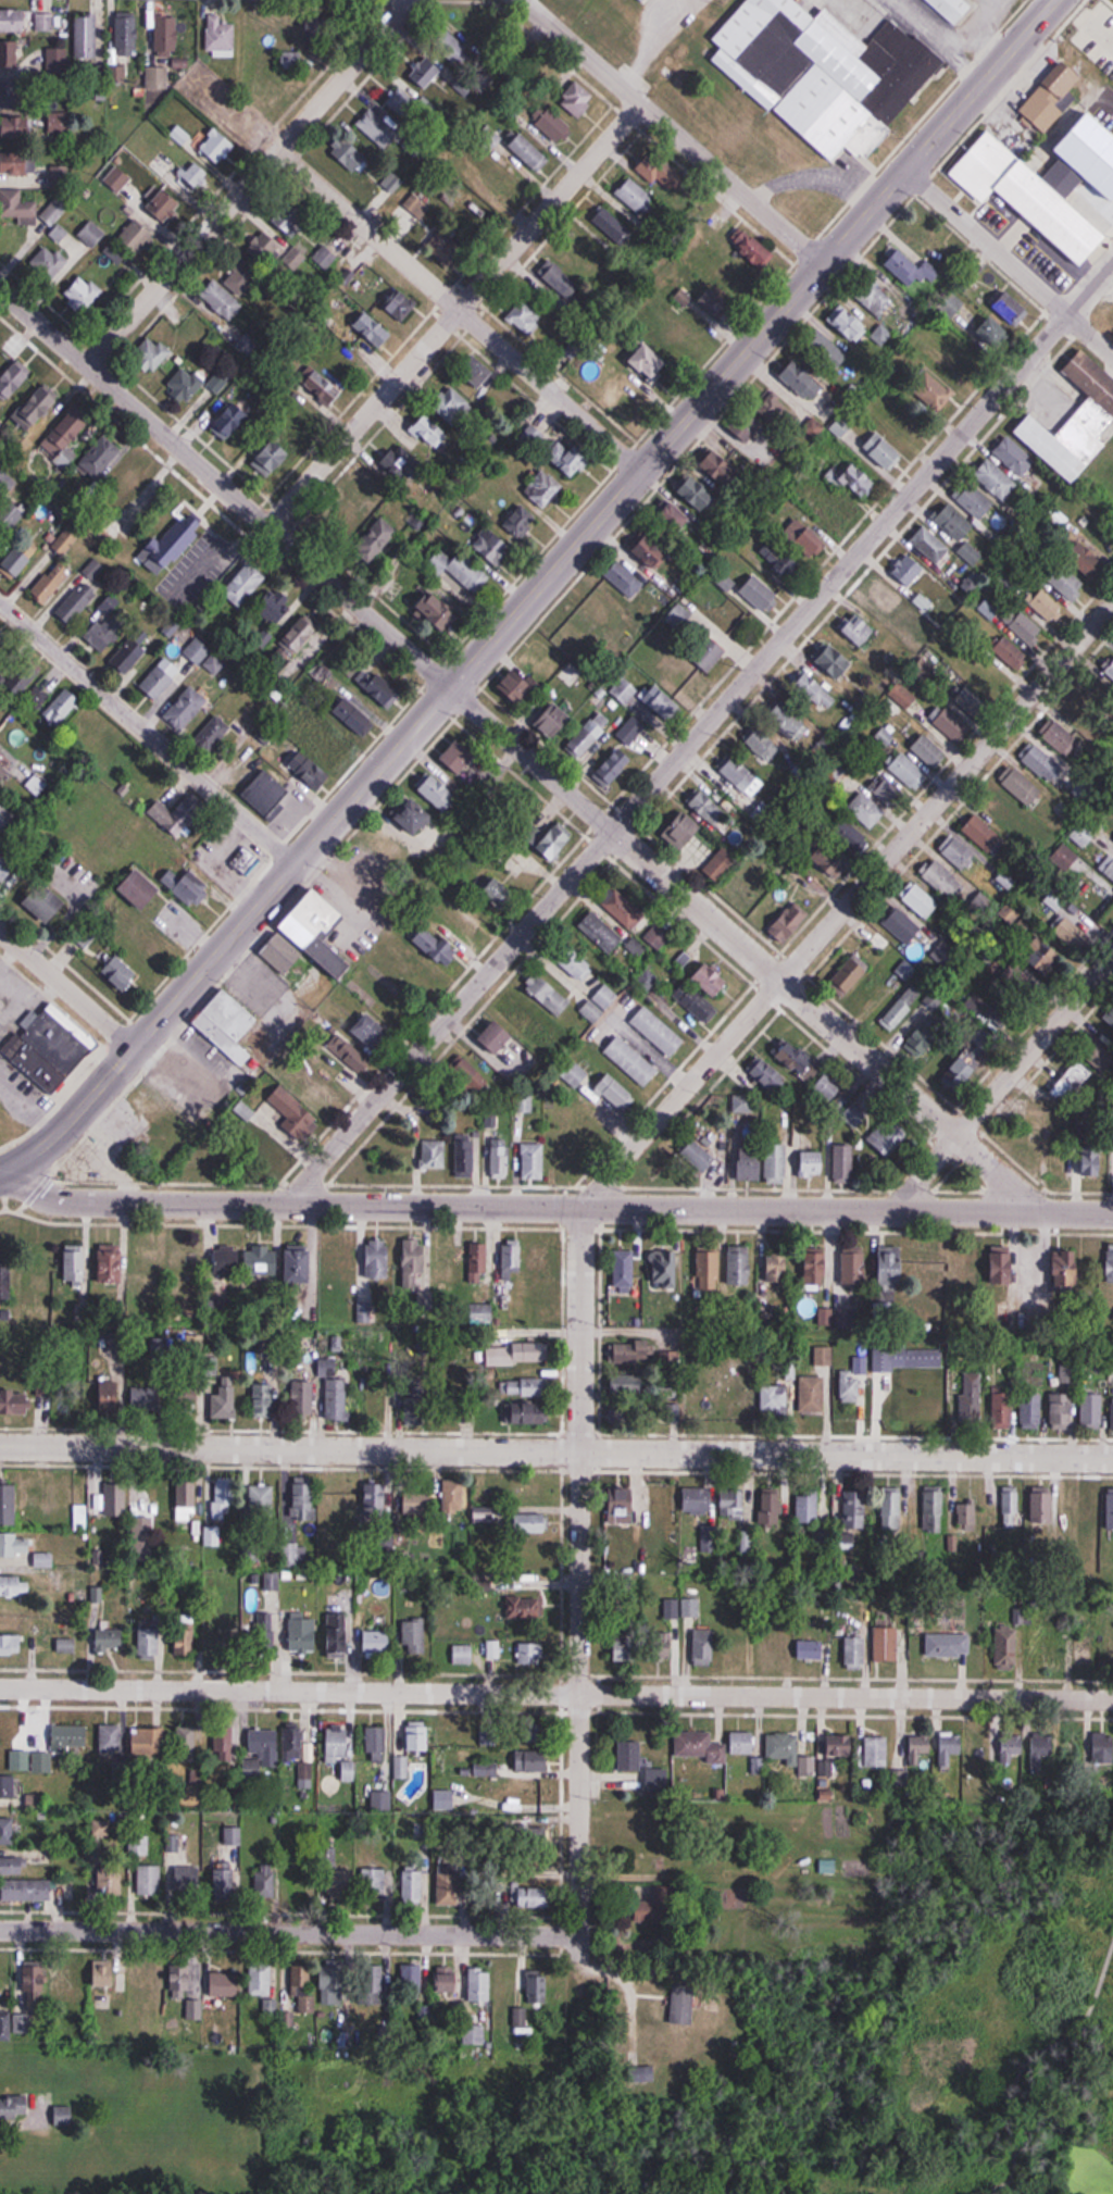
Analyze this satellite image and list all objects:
building: (645, 0)
building: (952, 10)
building: (12, 21)
building: (45, 23)
building: (126, 34)
building: (166, 34)
building: (220, 35)
building: (86, 37)
building: (9, 53)
building: (293, 59)
building: (427, 71)
building: (830, 74)
building: (158, 77)
building: (1052, 98)
building: (577, 100)
building: (402, 101)
building: (59, 122)
building: (551, 125)
building: (16, 126)
building: (376, 128)
road: (673, 132)
building: (216, 146)
building: (528, 152)
building: (350, 155)
building: (17, 164)
building: (660, 174)
road: (249, 184)
building: (635, 196)
building: (1029, 196)
building: (418, 203)
building: (164, 205)
building: (17, 207)
building: (54, 210)
building: (287, 220)
building: (609, 228)
building: (91, 233)
building: (136, 236)
building: (266, 247)
building: (447, 249)
building: (754, 249)
building: (325, 257)
building: (48, 262)
road: (1010, 262)
building: (912, 270)
building: (242, 279)
building: (559, 283)
building: (83, 294)
building: (221, 299)
building: (874, 299)
building: (400, 306)
building: (717, 306)
building: (1010, 309)
road: (461, 310)
road: (453, 315)
building: (847, 323)
building: (373, 329)
building: (992, 332)
building: (674, 335)
building: (826, 351)
building: (151, 354)
building: (964, 354)
building: (348, 361)
building: (477, 373)
building: (13, 378)
building: (801, 379)
building: (217, 382)
building: (185, 384)
building: (321, 387)
building: (935, 392)
building: (452, 404)
building: (37, 407)
building: (1076, 420)
building: (230, 421)
building: (299, 422)
building: (749, 431)
building: (429, 433)
building: (65, 439)
building: (884, 451)
building: (1014, 456)
building: (101, 458)
building: (272, 459)
building: (570, 459)
building: (721, 469)
building: (996, 478)
building: (859, 481)
building: (5, 483)
building: (128, 487)
building: (543, 489)
building: (699, 495)
building: (975, 500)
building: (828, 509)
building: (11, 516)
building: (675, 519)
building: (348, 520)
building: (521, 522)
building: (953, 522)
building: (805, 538)
building: (174, 540)
building: (65, 541)
building: (375, 541)
building: (931, 546)
building: (492, 547)
building: (651, 552)
building: (778, 558)
building: (1085, 558)
building: (21, 560)
building: (908, 569)
building: (468, 572)
building: (624, 578)
building: (1065, 581)
building: (51, 583)
building: (245, 585)
road: (533, 595)
building: (761, 595)
building: (886, 596)
building: (77, 603)
building: (1046, 604)
building: (274, 607)
building: (601, 607)
building: (437, 612)
building: (679, 616)
building: (102, 625)
building: (858, 627)
building: (1025, 627)
building: (296, 639)
building: (4, 643)
building: (196, 652)
building: (1010, 652)
building: (709, 655)
building: (129, 657)
building: (835, 660)
building: (1110, 670)
building: (687, 676)
building: (22, 677)
building: (161, 678)
building: (1112, 684)
building: (522, 687)
building: (815, 689)
building: (383, 690)
building: (39, 695)
building: (904, 696)
building: (1095, 696)
building: (660, 702)
building: (973, 703)
building: (62, 708)
building: (186, 709)
building: (554, 718)
building: (353, 719)
building: (784, 721)
building: (949, 723)
road: (149, 734)
building: (212, 735)
road: (700, 735)
building: (587, 737)
building: (325, 745)
road: (521, 750)
building: (928, 750)
building: (459, 755)
building: (1040, 761)
building: (613, 765)
building: (906, 769)
building: (310, 772)
building: (740, 774)
building: (39, 780)
building: (1021, 786)
building: (437, 790)
building: (267, 796)
building: (876, 801)
building: (709, 806)
building: (1001, 809)
building: (188, 811)
building: (413, 814)
building: (5, 815)
building: (684, 828)
building: (980, 832)
building: (1083, 833)
building: (849, 835)
building: (555, 840)
building: (386, 849)
building: (958, 852)
building: (828, 856)
building: (1063, 858)
building: (246, 861)
building: (1109, 868)
building: (5, 869)
building: (717, 870)
building: (366, 877)
building: (942, 878)
building: (753, 885)
building: (188, 887)
building: (140, 890)
building: (920, 899)
building: (1055, 899)
building: (46, 903)
building: (626, 909)
building: (470, 918)
building: (790, 920)
building: (901, 925)
building: (317, 928)
building: (1070, 933)
building: (605, 935)
building: (656, 935)
building: (879, 940)
building: (437, 945)
building: (635, 947)
building: (280, 953)
building: (1042, 955)
building: (571, 961)
building: (902, 967)
building: (851, 971)
building: (120, 973)
building: (712, 978)
building: (1018, 978)
building: (646, 980)
building: (548, 994)
road: (65, 996)
building: (599, 1002)
building: (696, 1002)
building: (901, 1006)
building: (1003, 1010)
building: (521, 1015)
building: (227, 1025)
building: (372, 1031)
building: (658, 1031)
building: (926, 1035)
building: (497, 1036)
building: (53, 1049)
building: (795, 1058)
building: (631, 1060)
building: (961, 1070)
building: (1081, 1070)
building: (577, 1074)
building: (767, 1074)
building: (470, 1076)
road: (1002, 1082)
building: (615, 1090)
building: (824, 1094)
building: (742, 1105)
building: (320, 1106)
building: (291, 1113)
building: (852, 1115)
building: (887, 1136)
building: (274, 1150)
building: (434, 1154)
building: (700, 1156)
building: (465, 1157)
building: (500, 1157)
building: (572, 1157)
building: (208, 1158)
building: (533, 1160)
building: (1088, 1160)
building: (749, 1162)
building: (776, 1162)
building: (843, 1162)
building: (812, 1163)
building: (1112, 1164)
road: (597, 1189)
road: (558, 1207)
building: (540, 1257)
building: (511, 1258)
building: (338, 1259)
building: (377, 1259)
building: (226, 1260)
building: (262, 1260)
building: (75, 1263)
building: (111, 1263)
building: (300, 1264)
building: (414, 1264)
building: (739, 1264)
building: (890, 1264)
building: (1003, 1264)
building: (816, 1266)
building: (966, 1266)
building: (1112, 1266)
building: (777, 1267)
building: (855, 1267)
building: (706, 1268)
building: (931, 1268)
building: (663, 1269)
building: (1066, 1270)
building: (623, 1271)
building: (472, 1276)
building: (7, 1281)
building: (480, 1313)
building: (159, 1350)
building: (633, 1352)
building: (517, 1354)
building: (823, 1356)
building: (908, 1356)
building: (15, 1359)
building: (851, 1383)
building: (524, 1386)
building: (628, 1387)
building: (812, 1393)
building: (110, 1395)
building: (187, 1395)
building: (774, 1396)
building: (148, 1397)
building: (700, 1397)
building: (971, 1397)
building: (303, 1398)
building: (337, 1398)
building: (738, 1398)
building: (15, 1399)
building: (225, 1400)
building: (265, 1401)
building: (415, 1405)
building: (927, 1405)
building: (1003, 1409)
building: (624, 1410)
building: (1033, 1410)
building: (1092, 1410)
building: (530, 1412)
building: (1063, 1412)
road: (556, 1451)
building: (663, 1495)
building: (375, 1497)
building: (453, 1497)
building: (115, 1498)
building: (303, 1498)
building: (185, 1499)
building: (222, 1499)
building: (262, 1500)
building: (697, 1500)
building: (733, 1500)
building: (622, 1501)
building: (8, 1504)
building: (416, 1504)
building: (808, 1506)
building: (1010, 1506)
building: (1041, 1506)
building: (771, 1508)
building: (854, 1508)
building: (890, 1508)
building: (1110, 1509)
building: (931, 1510)
building: (1078, 1511)
building: (965, 1516)
building: (79, 1517)
building: (530, 1522)
building: (14, 1544)
building: (533, 1554)
building: (43, 1560)
building: (11, 1585)
building: (524, 1606)
building: (690, 1607)
building: (671, 1608)
building: (784, 1623)
building: (1108, 1623)
building: (214, 1629)
building: (263, 1631)
building: (303, 1633)
building: (186, 1634)
building: (340, 1635)
building: (414, 1635)
building: (109, 1640)
building: (149, 1641)
building: (378, 1641)
building: (886, 1643)
building: (11, 1644)
building: (948, 1644)
building: (66, 1645)
building: (625, 1646)
building: (703, 1647)
building: (1006, 1647)
building: (493, 1648)
building: (811, 1649)
building: (737, 1650)
building: (856, 1651)
building: (532, 1653)
building: (463, 1654)
building: (774, 1655)
road: (555, 1694)
building: (13, 1731)
building: (417, 1736)
building: (68, 1737)
building: (110, 1738)
building: (148, 1742)
building: (186, 1743)
building: (295, 1743)
building: (376, 1743)
building: (742, 1743)
building: (223, 1745)
building: (264, 1745)
building: (337, 1745)
building: (697, 1745)
building: (784, 1747)
building: (839, 1747)
building: (950, 1747)
building: (1010, 1747)
building: (1102, 1747)
building: (918, 1748)
building: (1041, 1748)
building: (981, 1749)
building: (876, 1752)
building: (630, 1759)
building: (530, 1761)
building: (254, 1762)
building: (42, 1763)
building: (402, 1767)
building: (8, 1786)
building: (527, 1793)
building: (443, 1800)
building: (380, 1802)
building: (7, 1831)
building: (233, 1836)
building: (13, 1867)
building: (187, 1879)
building: (150, 1880)
building: (111, 1881)
building: (224, 1881)
building: (265, 1883)
building: (303, 1883)
building: (374, 1883)
building: (448, 1883)
building: (412, 1884)
building: (341, 1885)
building: (26, 1891)
building: (535, 1897)
building: (654, 1907)
road: (289, 1931)
building: (103, 1974)
building: (155, 1977)
building: (412, 1978)
building: (261, 1979)
building: (446, 1980)
building: (180, 1981)
building: (224, 1984)
building: (333, 1984)
building: (480, 1984)
building: (67, 1985)
building: (371, 1985)
building: (303, 1986)
building: (36, 1987)
building: (537, 1990)
park: (984, 1994)
building: (683, 2004)
building: (520, 2017)
building: (23, 2023)
building: (146, 2031)
building: (473, 2034)
building: (14, 2107)
building: (64, 2116)
road: (986, 2189)

